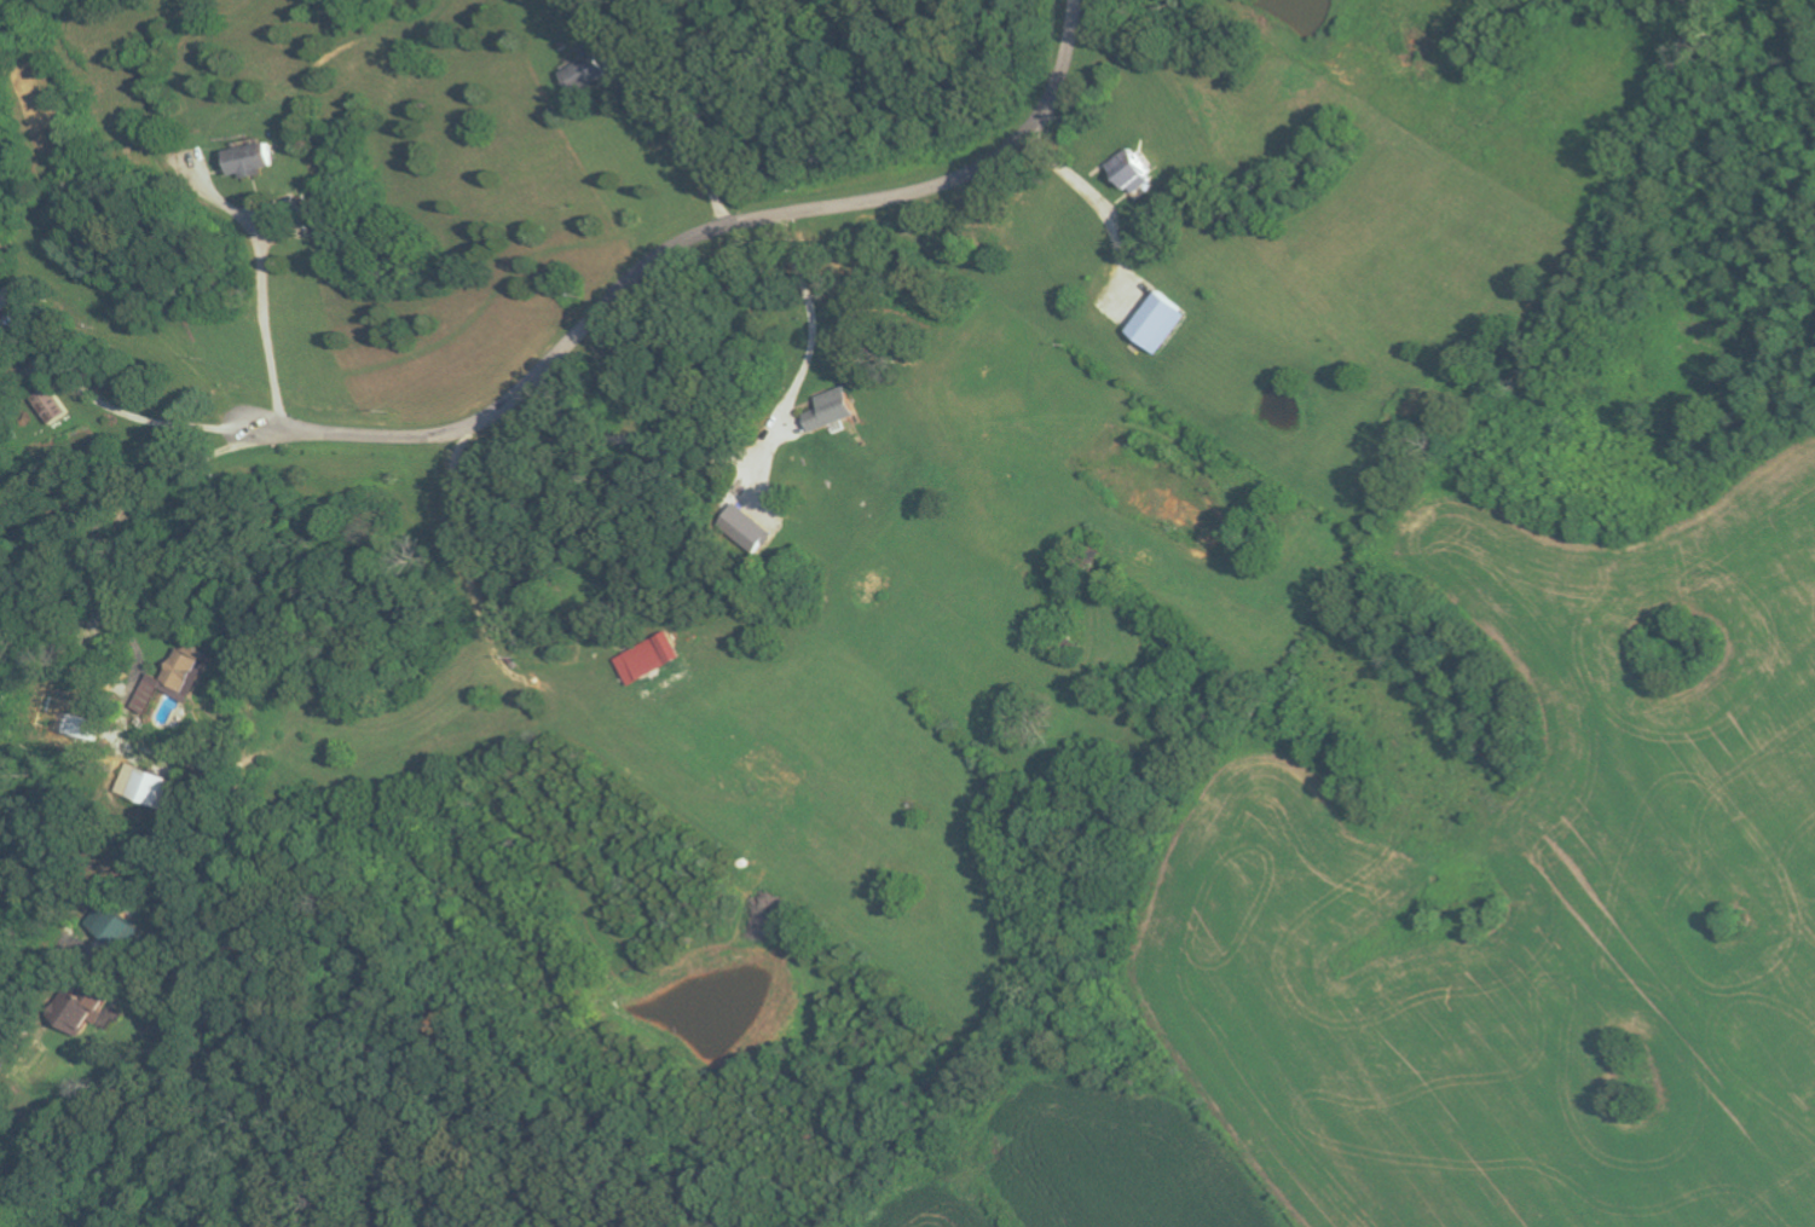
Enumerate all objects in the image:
building: (585, 74)
road: (692, 135)
building: (250, 160)
building: (1129, 168)
road: (1103, 204)
road: (713, 232)
road: (266, 317)
road: (816, 319)
building: (1158, 322)
building: (52, 404)
building: (831, 409)
road: (256, 411)
road: (132, 413)
road: (106, 513)
building: (745, 527)
building: (647, 658)
building: (174, 683)
building: (146, 787)
building: (77, 1014)
road: (6, 1060)

